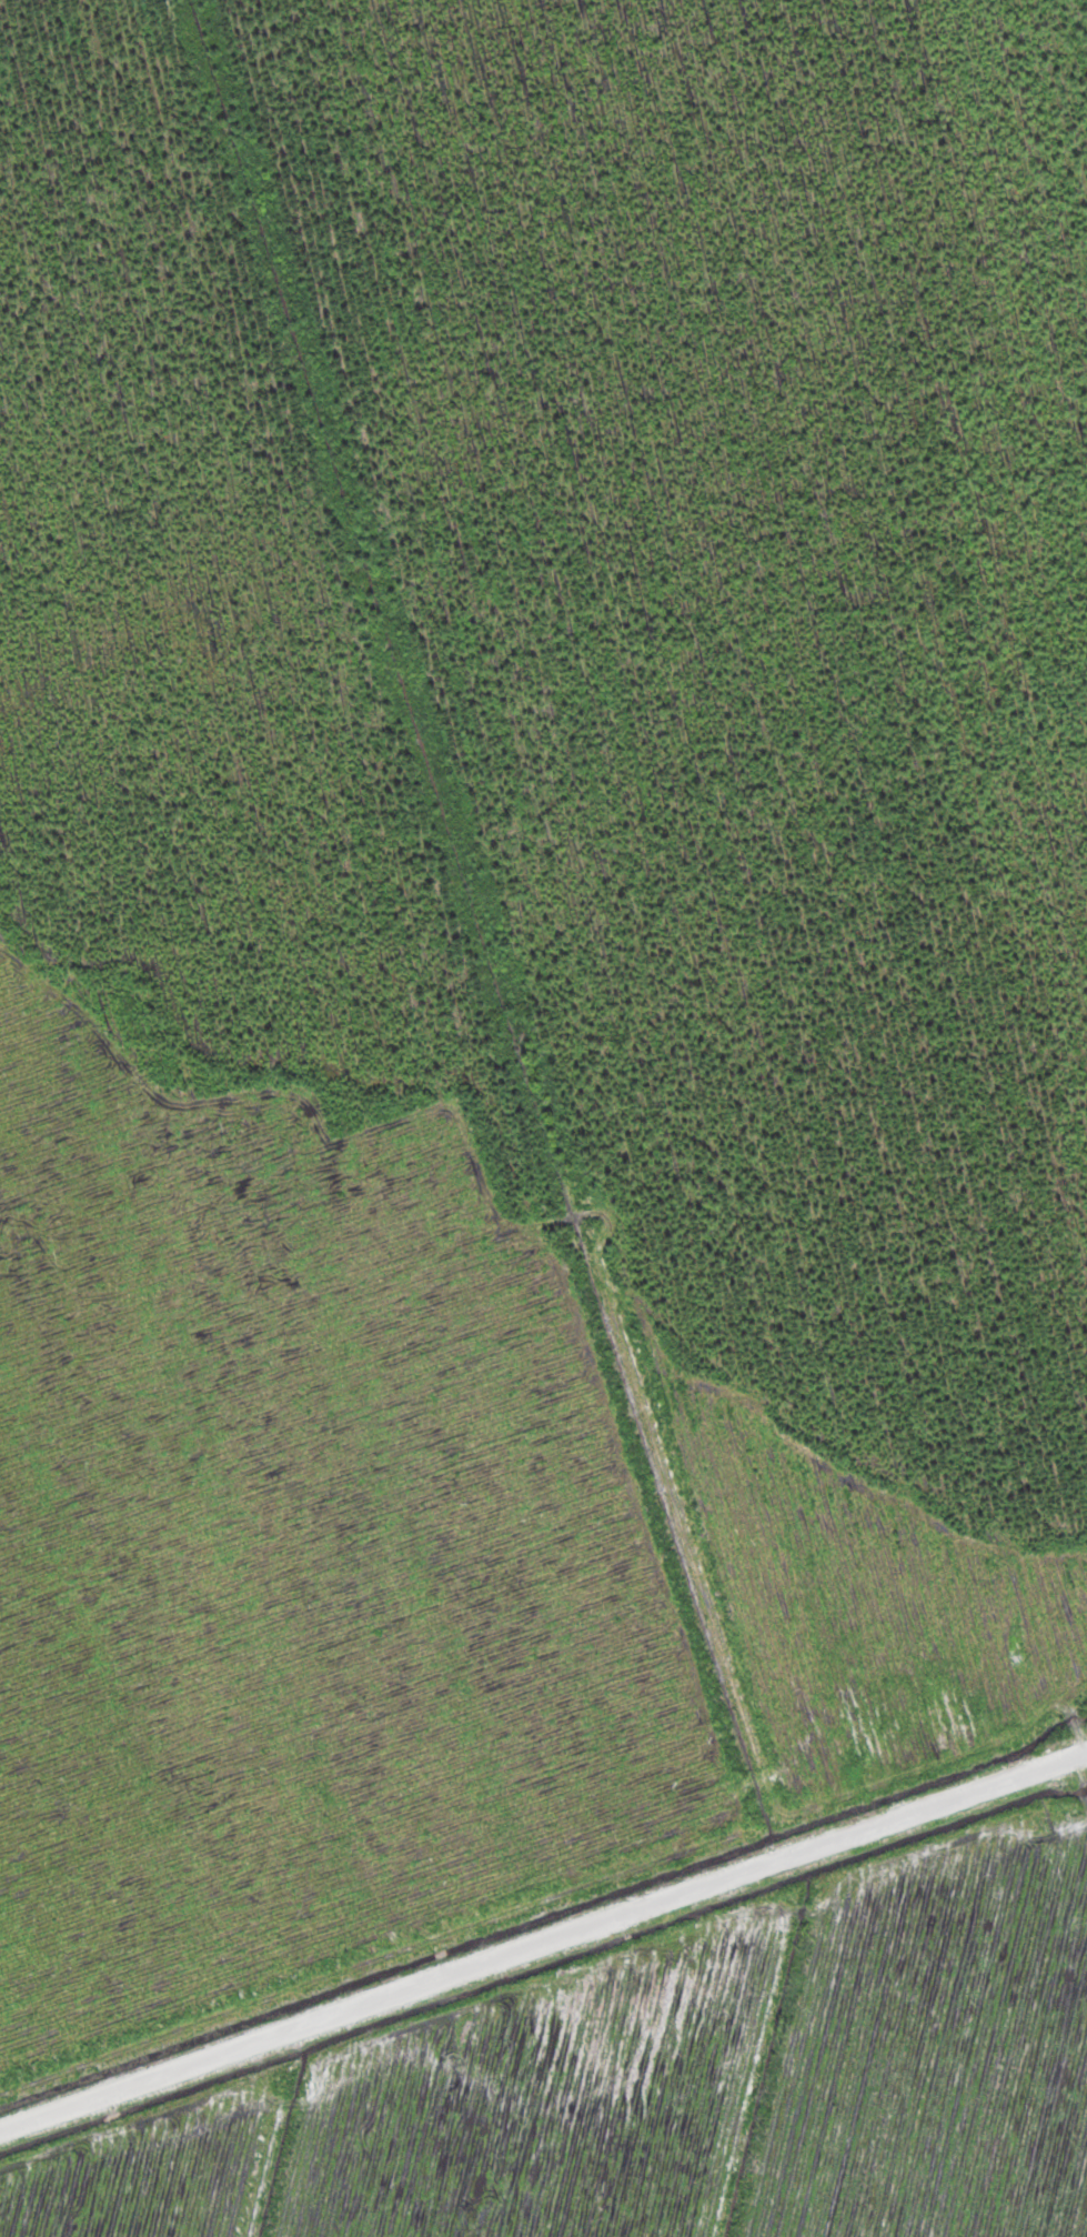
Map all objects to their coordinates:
road: (543, 1945)

